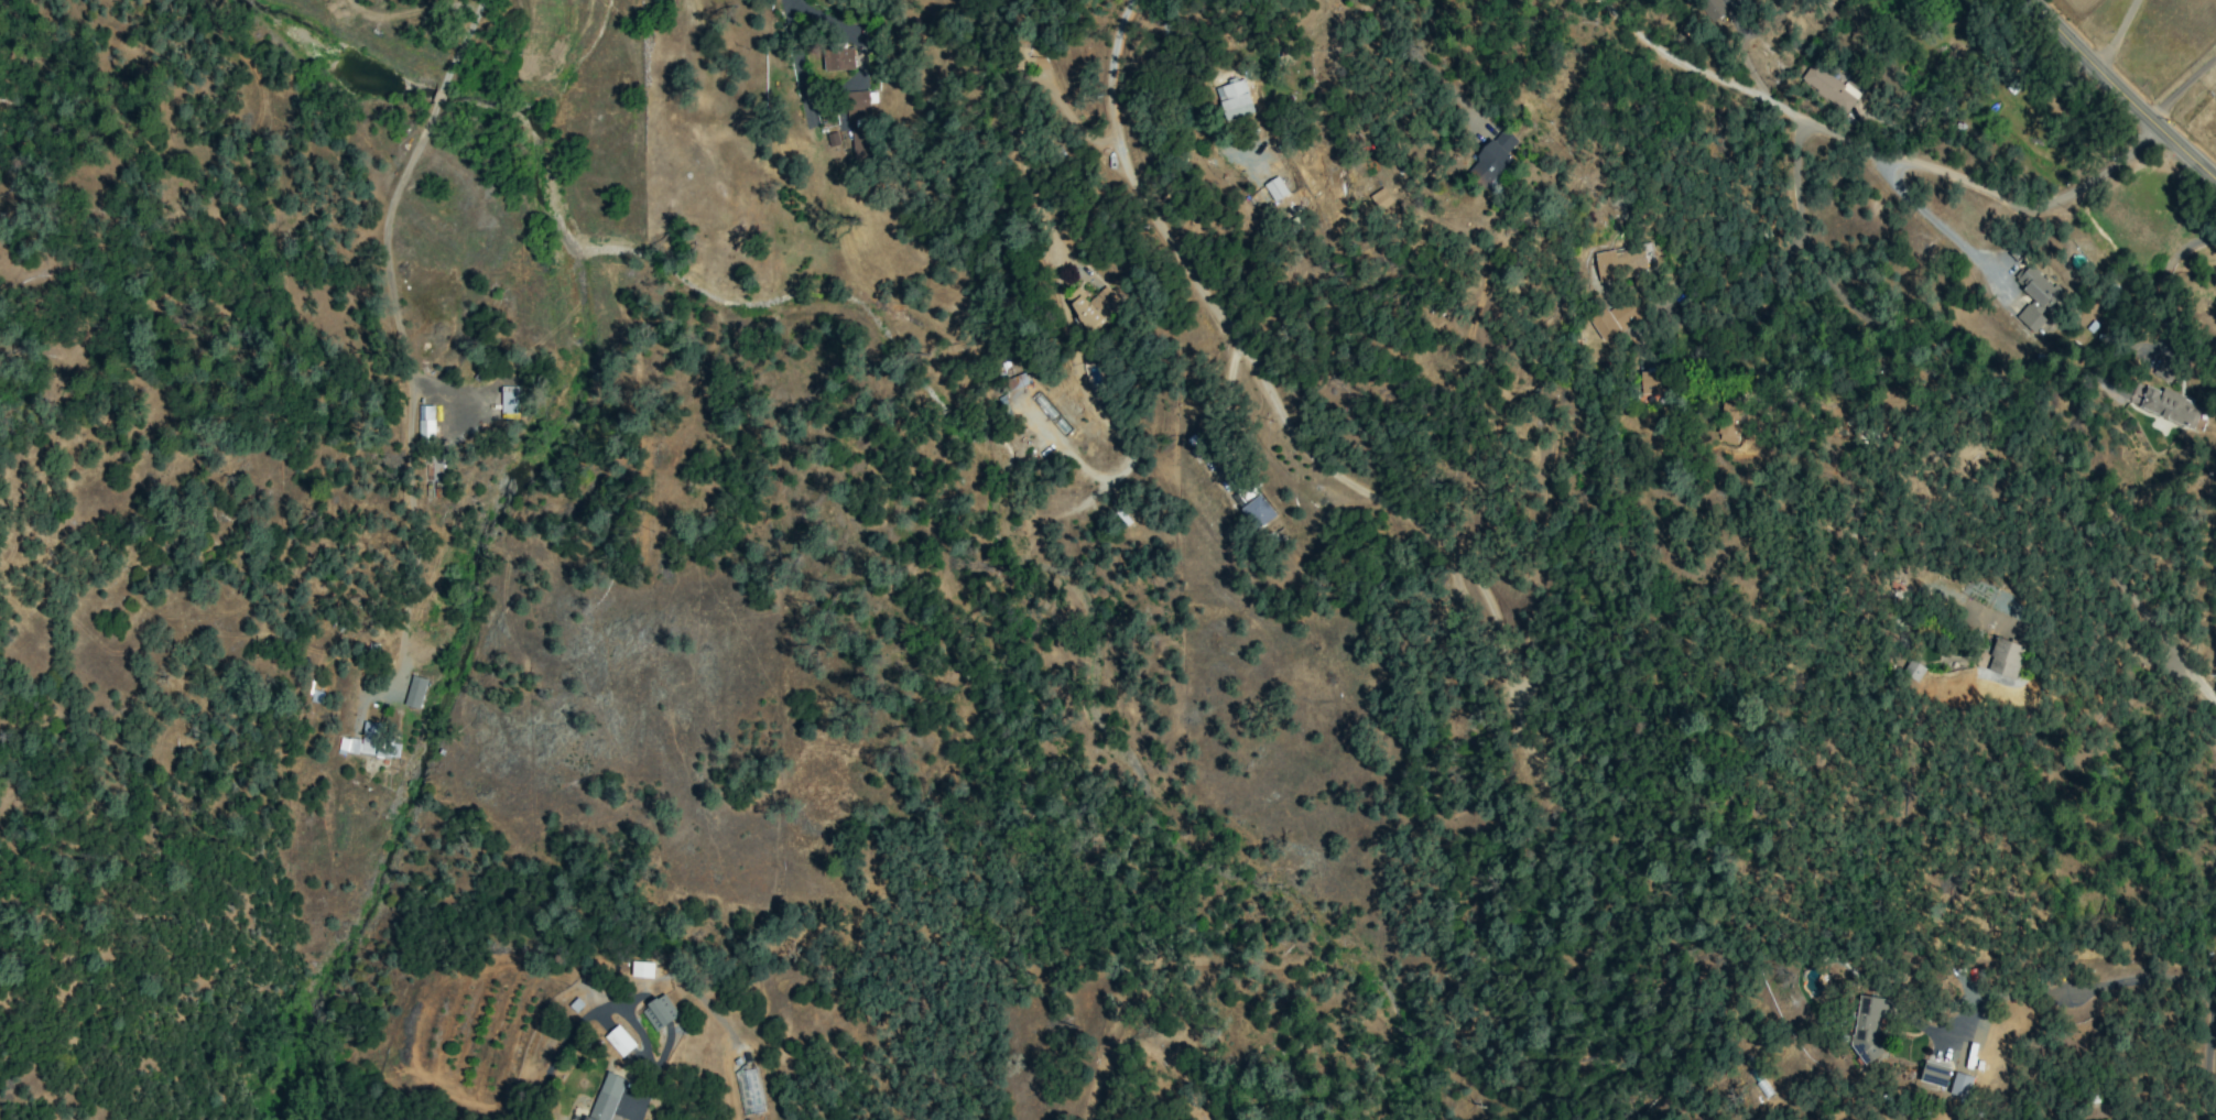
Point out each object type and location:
road: (845, 32)
road: (2116, 32)
road: (460, 46)
building: (1025, 54)
building: (837, 58)
road: (800, 59)
road: (1420, 63)
road: (2183, 86)
building: (1827, 87)
road: (2122, 90)
road: (437, 99)
building: (1235, 100)
building: (856, 104)
road: (1072, 118)
building: (861, 141)
road: (1878, 148)
building: (1492, 160)
building: (1274, 188)
building: (1380, 198)
road: (1942, 229)
road: (382, 238)
building: (1622, 262)
road: (2163, 273)
building: (2035, 297)
building: (1094, 307)
building: (1616, 317)
road: (1258, 370)
building: (2163, 370)
building: (1651, 387)
building: (508, 402)
building: (2166, 405)
building: (424, 423)
building: (1728, 423)
road: (1968, 426)
building: (1245, 494)
building: (1258, 512)
building: (2005, 657)
building: (1912, 670)
building: (414, 692)
building: (370, 742)
building: (642, 969)
road: (2197, 998)
building: (659, 1012)
building: (1867, 1024)
building: (619, 1041)
building: (1934, 1074)
building: (1959, 1085)
building: (606, 1097)

